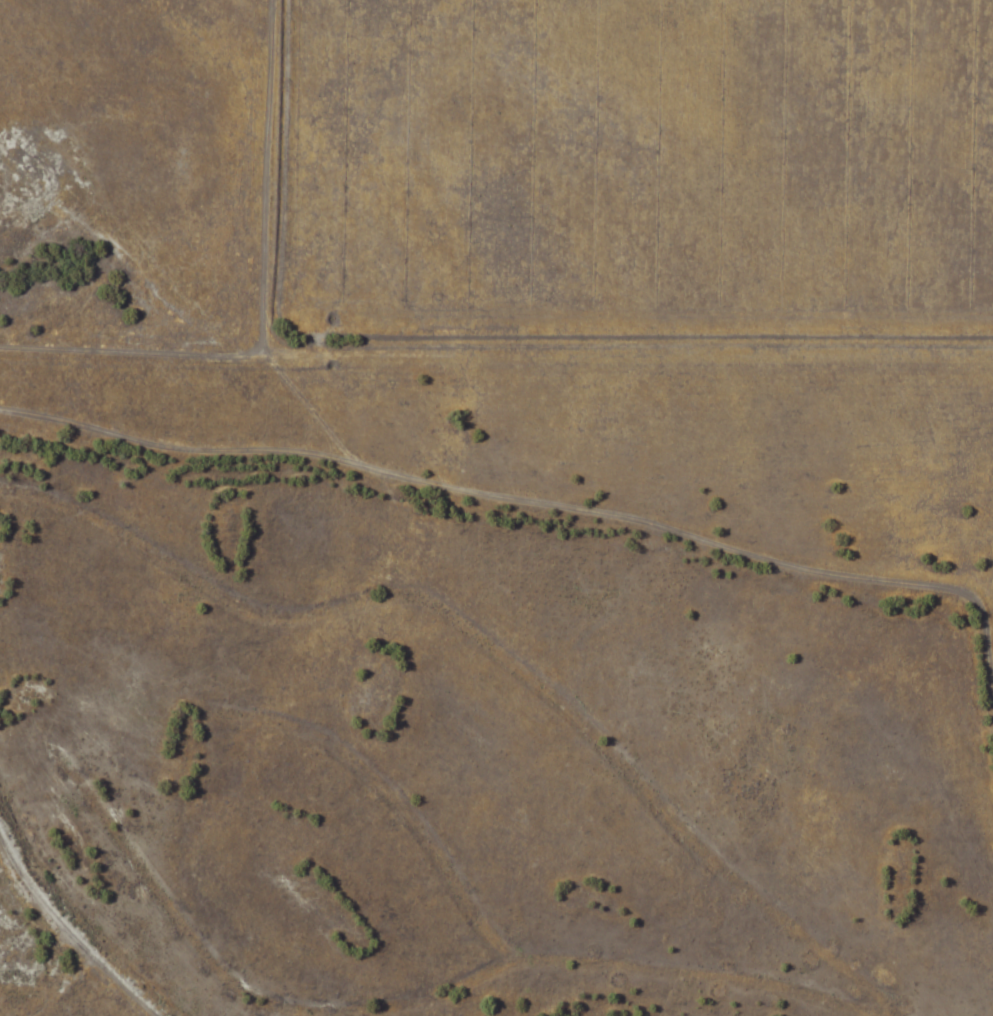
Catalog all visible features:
crop: (631, 173)
road: (472, 355)
road: (135, 728)

